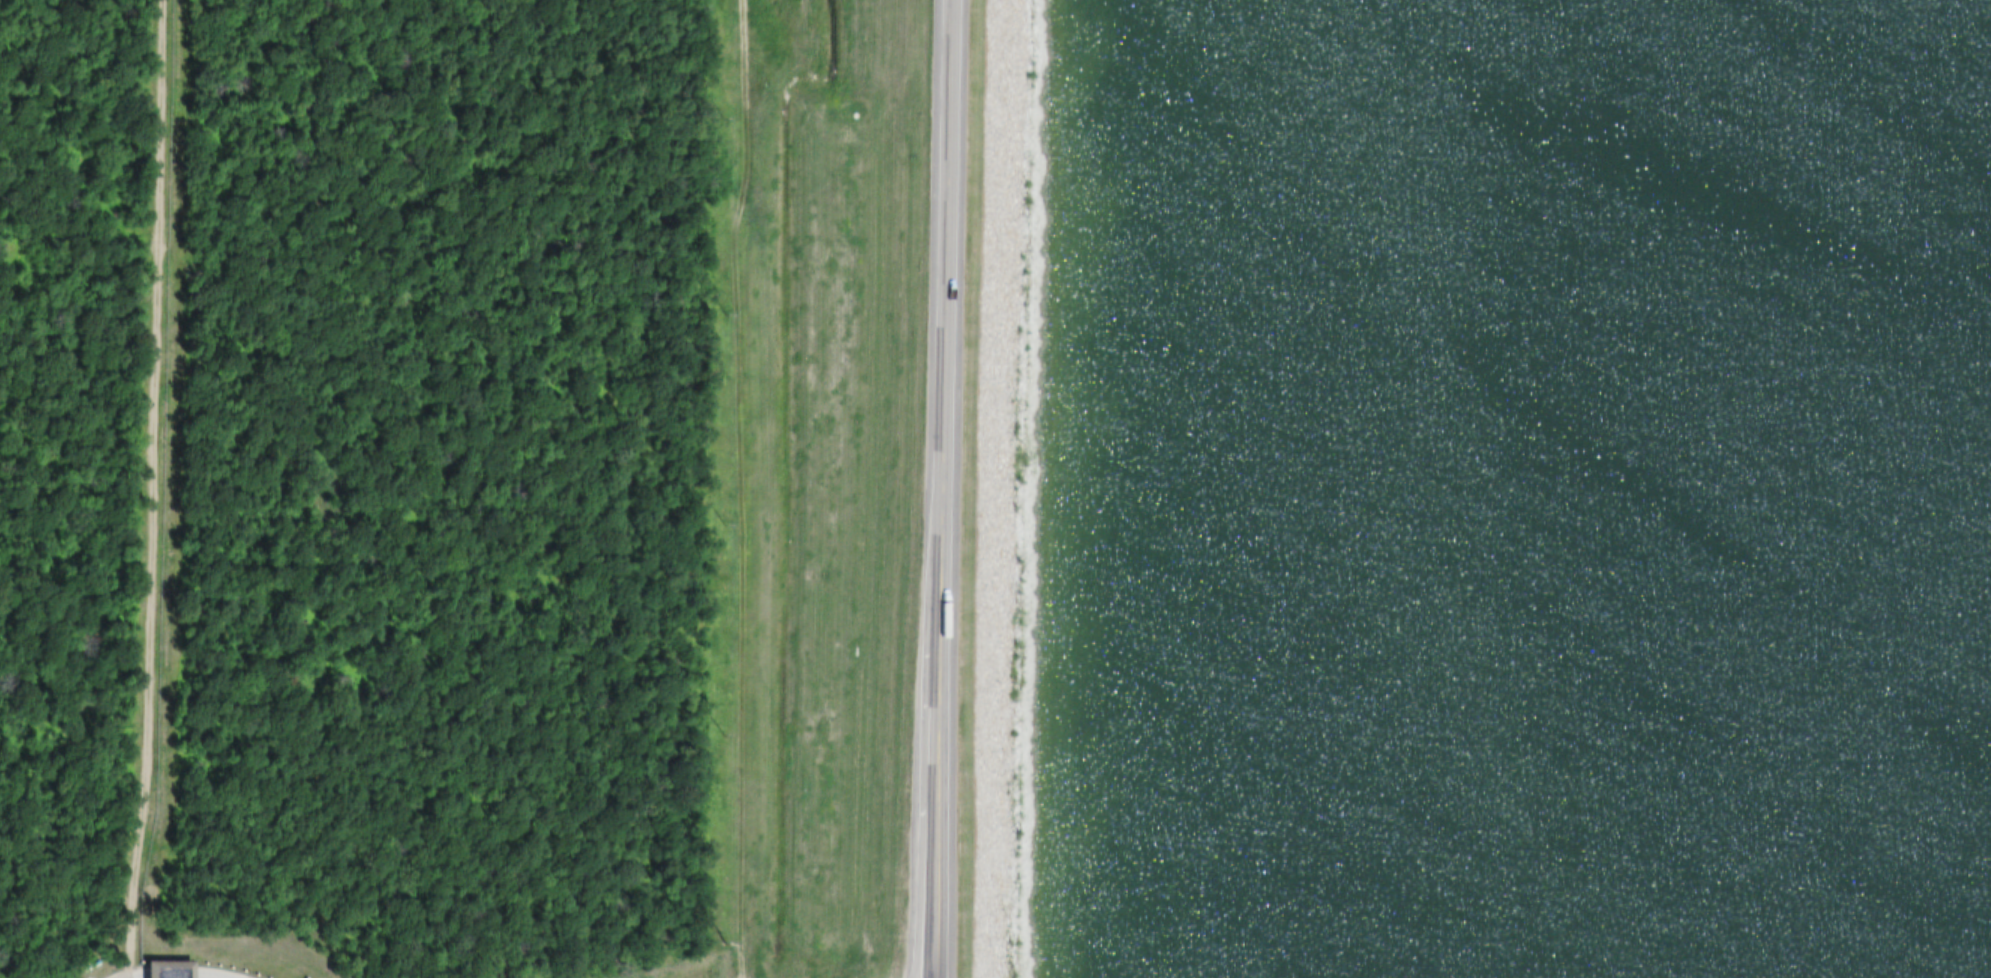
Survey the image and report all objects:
road: (1007, 323)
road: (997, 812)
building: (157, 968)

